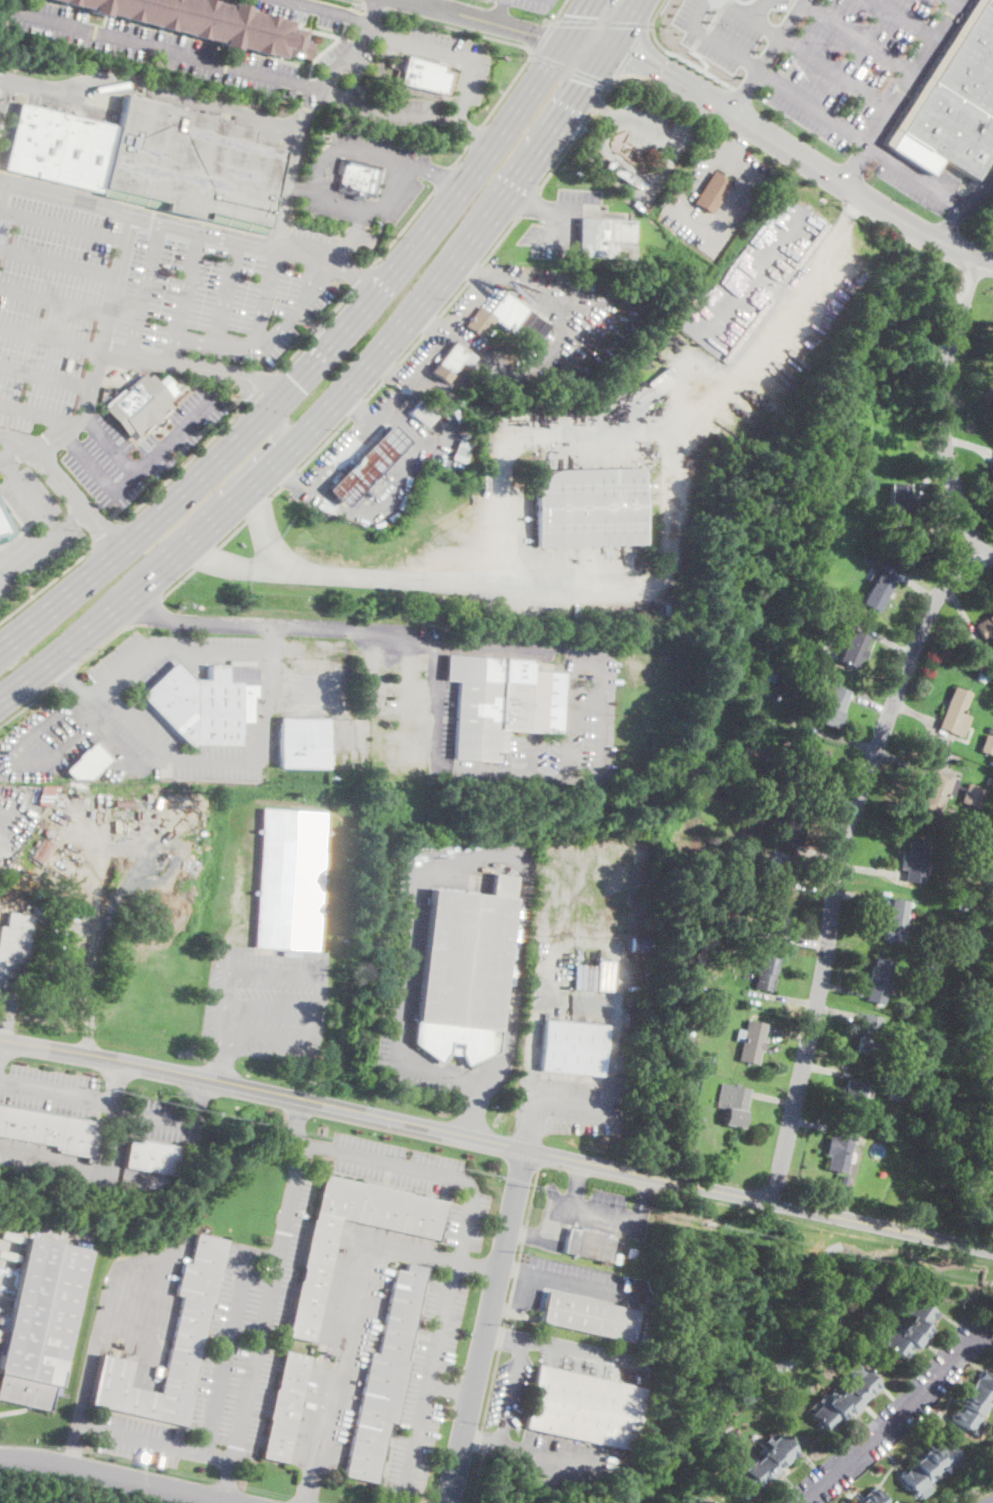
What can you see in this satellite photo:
road: (356, 2)
road: (425, 2)
parking lot: (532, 4)
road: (373, 6)
road: (331, 9)
road: (558, 9)
road: (761, 9)
parking lot: (300, 10)
road: (655, 11)
road: (500, 12)
traffic signals: (575, 13)
road: (754, 17)
road: (909, 18)
road: (481, 19)
road: (368, 20)
road: (600, 22)
building: (209, 23)
road: (649, 24)
road: (457, 27)
parking lot: (724, 27)
road: (385, 35)
traffic signals: (537, 35)
road: (543, 36)
road: (861, 36)
road: (712, 37)
parking lot: (146, 44)
road: (160, 48)
road: (630, 49)
road: (461, 54)
parking lot: (348, 55)
road: (765, 57)
parking lot: (455, 58)
traffic signals: (636, 58)
road: (702, 58)
road: (685, 60)
road: (339, 63)
parking lot: (853, 64)
road: (569, 67)
road: (835, 72)
building: (424, 75)
traffic signals: (584, 82)
road: (402, 85)
road: (494, 85)
road: (606, 85)
road: (657, 88)
road: (151, 89)
road: (505, 89)
road: (737, 90)
parking lot: (1, 92)
road: (328, 92)
road: (901, 92)
road: (597, 102)
building: (953, 102)
road: (597, 103)
road: (814, 104)
parking lot: (393, 108)
road: (396, 114)
parking lot: (642, 121)
road: (463, 126)
road: (474, 134)
building: (319, 138)
road: (777, 143)
road: (566, 148)
road: (670, 149)
road: (459, 153)
road: (401, 158)
building: (151, 160)
road: (625, 164)
road: (320, 165)
road: (289, 168)
road: (333, 171)
road: (917, 171)
road: (431, 172)
parking lot: (404, 174)
building: (623, 174)
road: (442, 175)
building: (357, 178)
road: (614, 180)
parking lot: (918, 180)
road: (294, 190)
building: (712, 192)
road: (308, 193)
parking lot: (681, 197)
road: (529, 201)
road: (346, 202)
road: (440, 203)
road: (528, 204)
parking lot: (735, 204)
road: (555, 209)
road: (687, 215)
road: (133, 217)
parking lot: (561, 221)
road: (952, 222)
road: (64, 224)
road: (357, 224)
road: (402, 225)
building: (605, 238)
road: (498, 240)
road: (308, 251)
building: (364, 251)
road: (59, 263)
road: (472, 271)
road: (355, 272)
road: (361, 276)
road: (522, 283)
road: (144, 289)
road: (226, 293)
road: (184, 297)
road: (452, 297)
road: (55, 300)
road: (264, 300)
parking lot: (140, 315)
building: (500, 316)
road: (429, 323)
road: (278, 327)
building: (540, 328)
road: (452, 331)
road: (50, 338)
road: (102, 346)
road: (410, 347)
building: (451, 360)
road: (173, 363)
road: (281, 366)
road: (389, 370)
road: (408, 375)
road: (46, 376)
traffic signals: (296, 380)
road: (353, 380)
road: (268, 381)
road: (265, 382)
road: (257, 393)
traffic signals: (249, 394)
road: (247, 404)
building: (138, 405)
road: (248, 407)
road: (943, 409)
road: (40, 412)
building: (422, 413)
road: (261, 417)
building: (772, 424)
traffic signals: (273, 440)
road: (110, 443)
road: (546, 444)
building: (459, 449)
road: (13, 451)
road: (342, 452)
road: (1, 460)
building: (456, 463)
building: (368, 467)
gas station: (368, 467)
road: (180, 468)
road: (137, 469)
building: (855, 470)
building: (991, 470)
road: (50, 484)
road: (65, 485)
road: (395, 486)
parking lot: (25, 490)
road: (273, 490)
road: (29, 496)
road: (216, 497)
building: (899, 501)
building: (590, 506)
road: (76, 517)
building: (5, 525)
road: (267, 529)
road: (105, 531)
road: (43, 542)
road: (123, 547)
parking lot: (36, 550)
road: (57, 576)
building: (878, 589)
building: (860, 590)
road: (146, 610)
building: (852, 613)
building: (986, 628)
building: (819, 630)
road: (343, 631)
road: (101, 643)
road: (163, 643)
building: (853, 648)
building: (982, 671)
building: (780, 672)
road: (63, 674)
road: (68, 677)
building: (777, 695)
road: (27, 702)
building: (205, 703)
building: (501, 703)
building: (834, 706)
building: (955, 712)
road: (137, 724)
building: (990, 730)
building: (304, 741)
building: (791, 743)
building: (987, 744)
building: (763, 753)
road: (27, 754)
road: (221, 760)
building: (87, 763)
road: (391, 766)
building: (807, 772)
road: (530, 774)
building: (989, 781)
building: (960, 788)
building: (938, 791)
building: (973, 796)
building: (790, 828)
building: (50, 832)
building: (0, 848)
building: (42, 851)
building: (955, 854)
building: (764, 858)
road: (839, 858)
road: (460, 861)
building: (770, 861)
building: (914, 861)
building: (290, 881)
building: (707, 897)
building: (960, 907)
building: (976, 908)
road: (0, 910)
building: (39, 914)
building: (701, 919)
building: (772, 919)
building: (897, 921)
building: (719, 923)
building: (695, 935)
building: (642, 943)
building: (14, 950)
building: (969, 969)
building: (464, 971)
road: (324, 972)
building: (924, 972)
building: (65, 973)
building: (764, 973)
parking lot: (401, 980)
building: (878, 980)
building: (925, 986)
building: (716, 991)
road: (573, 998)
parking lot: (266, 1002)
road: (273, 1007)
road: (7, 1013)
building: (903, 1026)
building: (867, 1035)
building: (750, 1041)
building: (686, 1044)
building: (572, 1047)
road: (220, 1061)
road: (117, 1083)
parking lot: (49, 1090)
road: (264, 1090)
building: (897, 1093)
building: (851, 1095)
road: (97, 1100)
road: (197, 1100)
road: (548, 1100)
building: (733, 1104)
road: (473, 1109)
building: (678, 1116)
road: (296, 1119)
parking lot: (166, 1122)
building: (950, 1127)
building: (51, 1131)
building: (981, 1137)
building: (992, 1139)
road: (115, 1144)
building: (838, 1148)
building: (151, 1156)
road: (365, 1158)
building: (842, 1178)
parking lot: (418, 1179)
building: (944, 1181)
road: (576, 1183)
road: (647, 1199)
road: (760, 1200)
road: (578, 1207)
parking lot: (586, 1214)
road: (528, 1235)
building: (588, 1243)
building: (318, 1253)
building: (631, 1253)
building: (617, 1259)
road: (514, 1270)
parking lot: (571, 1283)
road: (583, 1285)
road: (356, 1290)
road: (522, 1306)
building: (588, 1315)
building: (40, 1322)
road: (489, 1327)
parking lot: (249, 1328)
building: (911, 1329)
building: (188, 1332)
road: (503, 1335)
building: (644, 1335)
road: (555, 1344)
road: (96, 1351)
building: (384, 1376)
parking lot: (426, 1385)
road: (451, 1390)
parking lot: (510, 1390)
road: (510, 1392)
building: (846, 1397)
building: (973, 1402)
building: (284, 1407)
building: (583, 1407)
road: (214, 1415)
road: (898, 1419)
parking lot: (135, 1437)
road: (534, 1451)
parking lot: (558, 1462)
building: (763, 1465)
building: (929, 1466)
road: (115, 1477)
road: (78, 1486)
road: (309, 1487)
building: (871, 1497)
building: (698, 1500)
road: (991, 1502)

